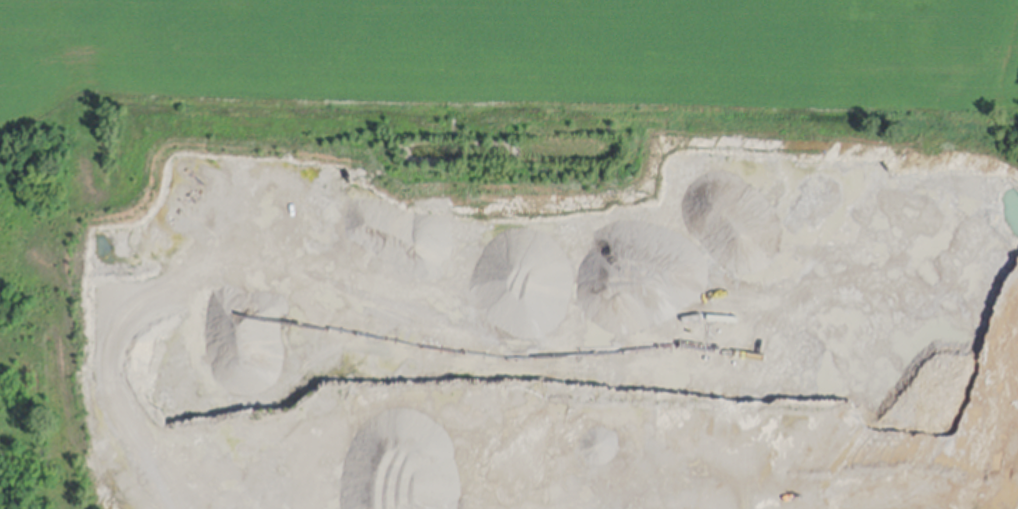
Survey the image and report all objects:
quarry: (509, 254)

